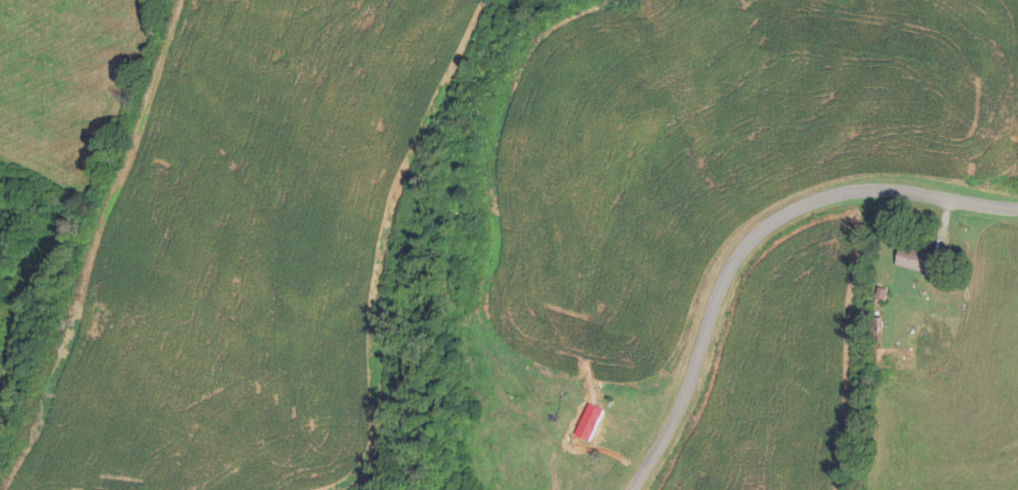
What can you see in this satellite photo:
road: (449, 214)
building: (917, 259)
road: (750, 266)
building: (595, 428)
building: (523, 451)

